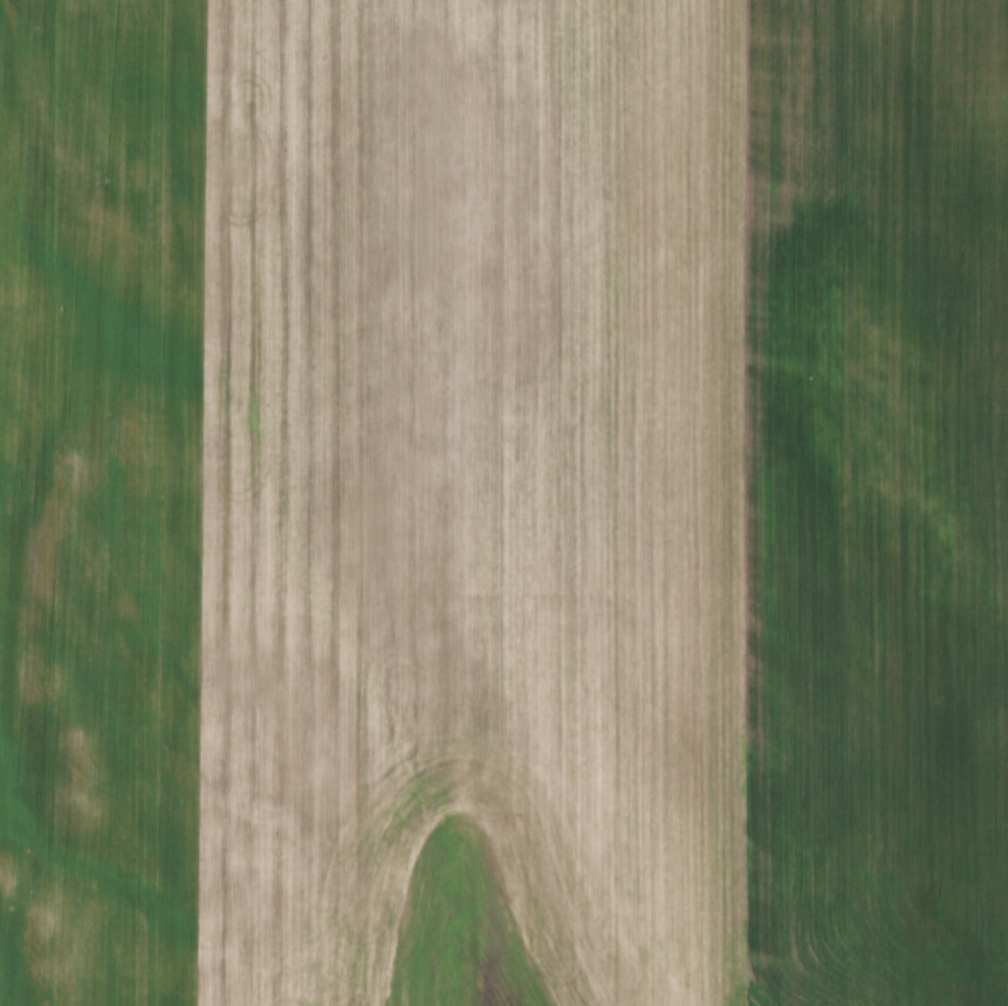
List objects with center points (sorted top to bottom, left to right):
road: (763, 502)

